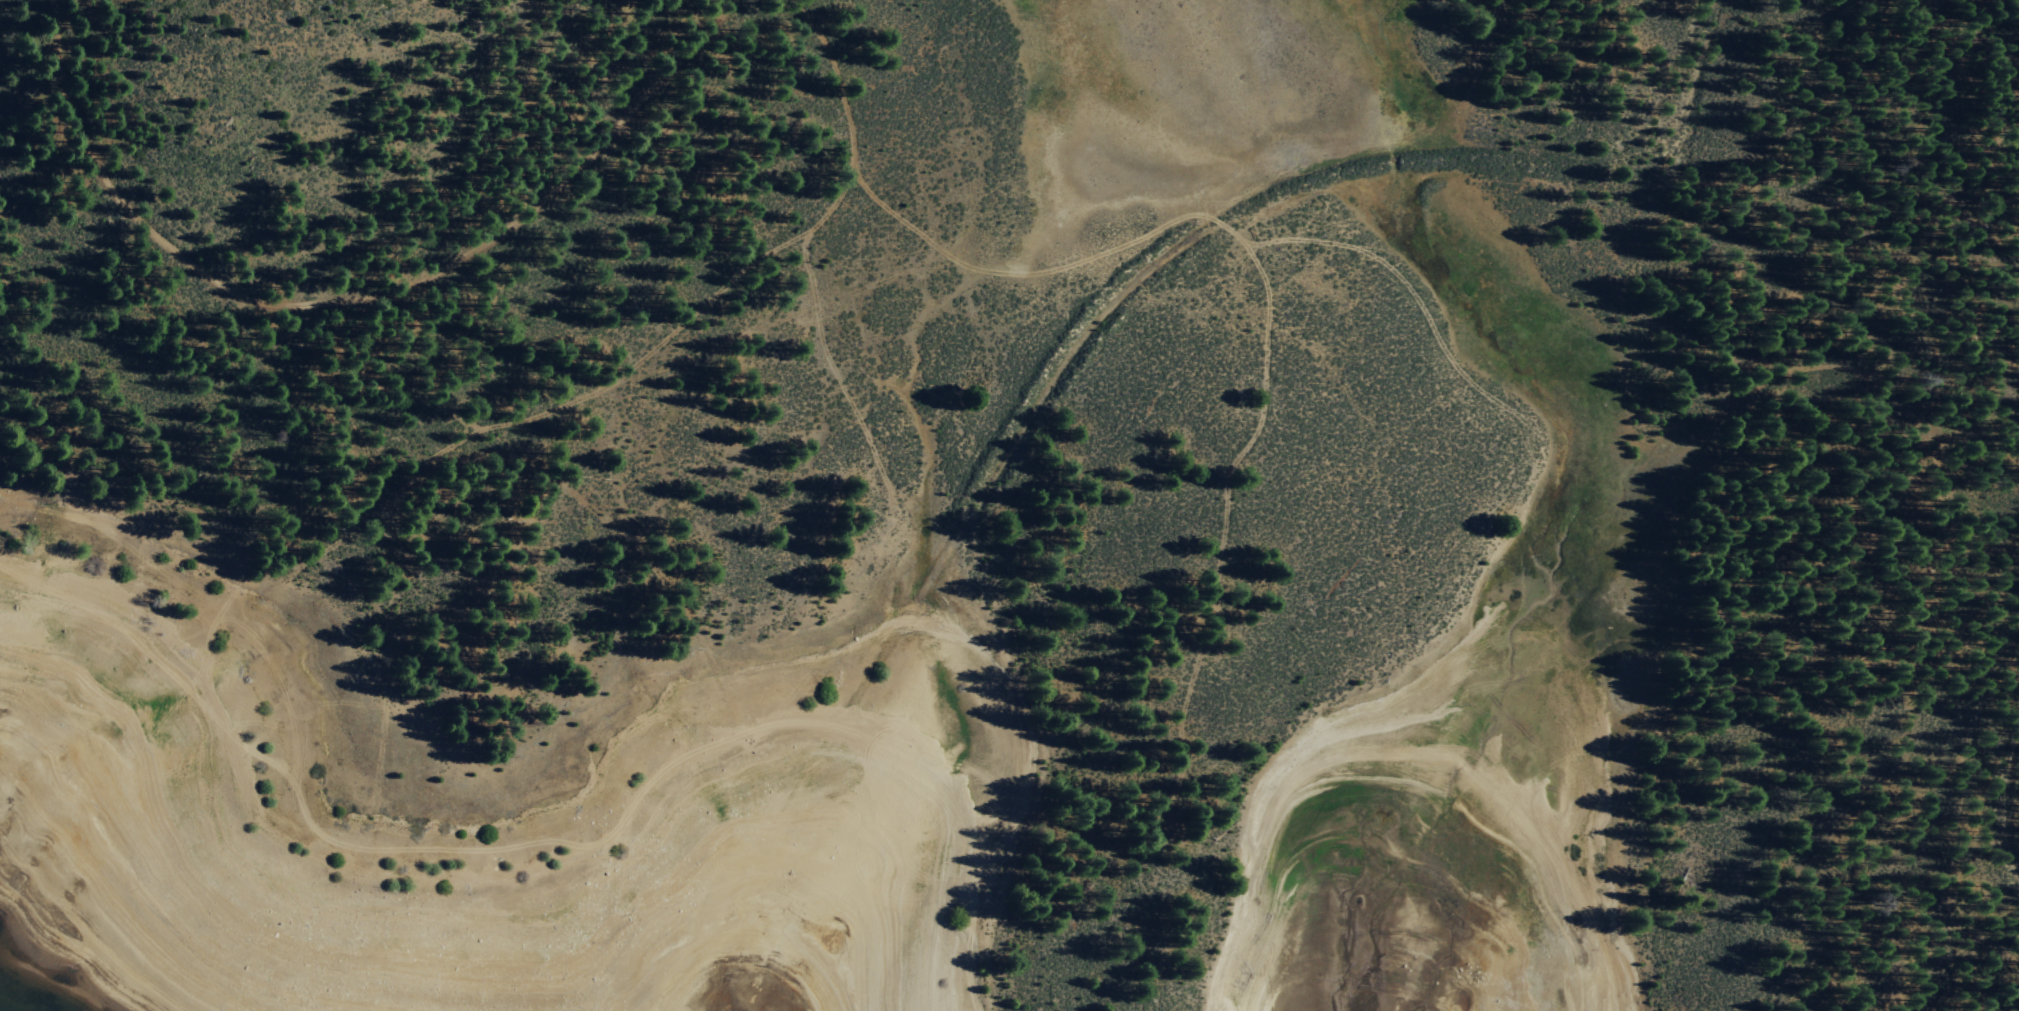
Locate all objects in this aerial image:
road: (366, 314)

